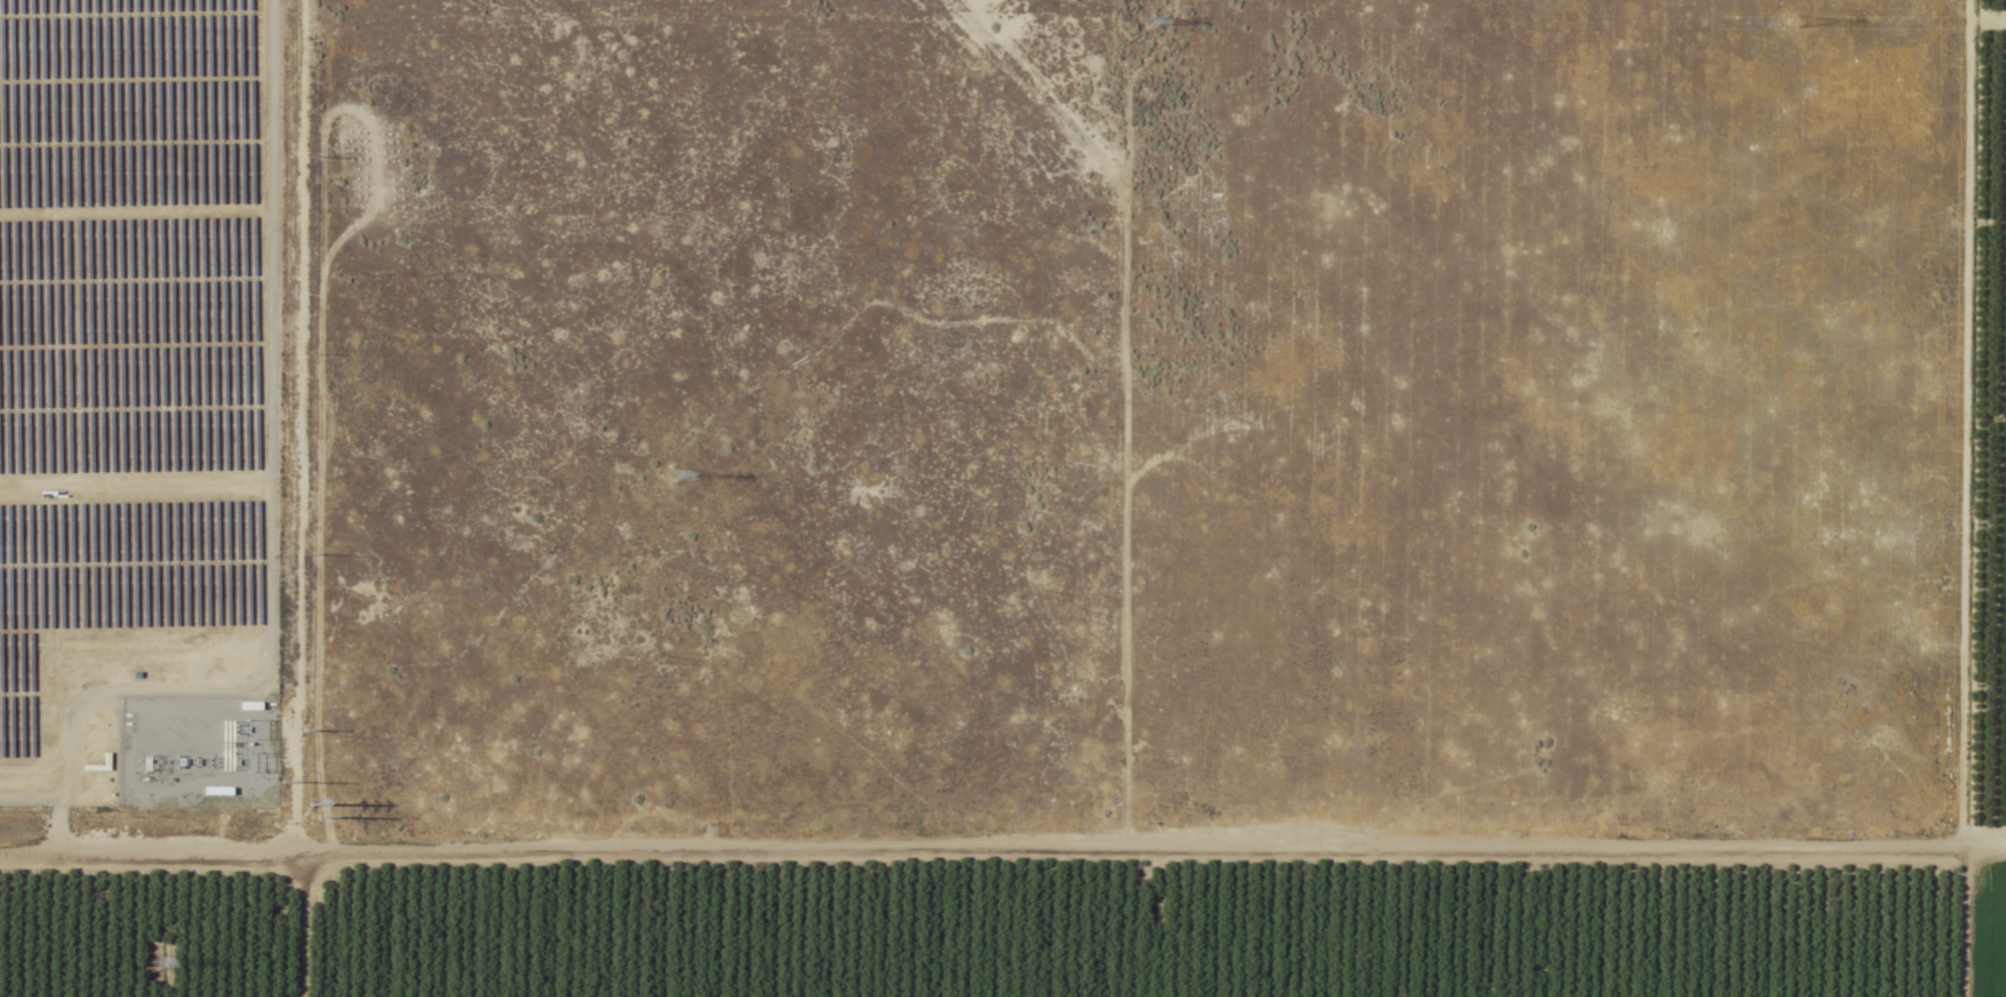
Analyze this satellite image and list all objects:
solar farm: (134, 370)
power substation: (194, 749)
road: (1002, 843)
road: (311, 920)
crop: (1982, 927)

